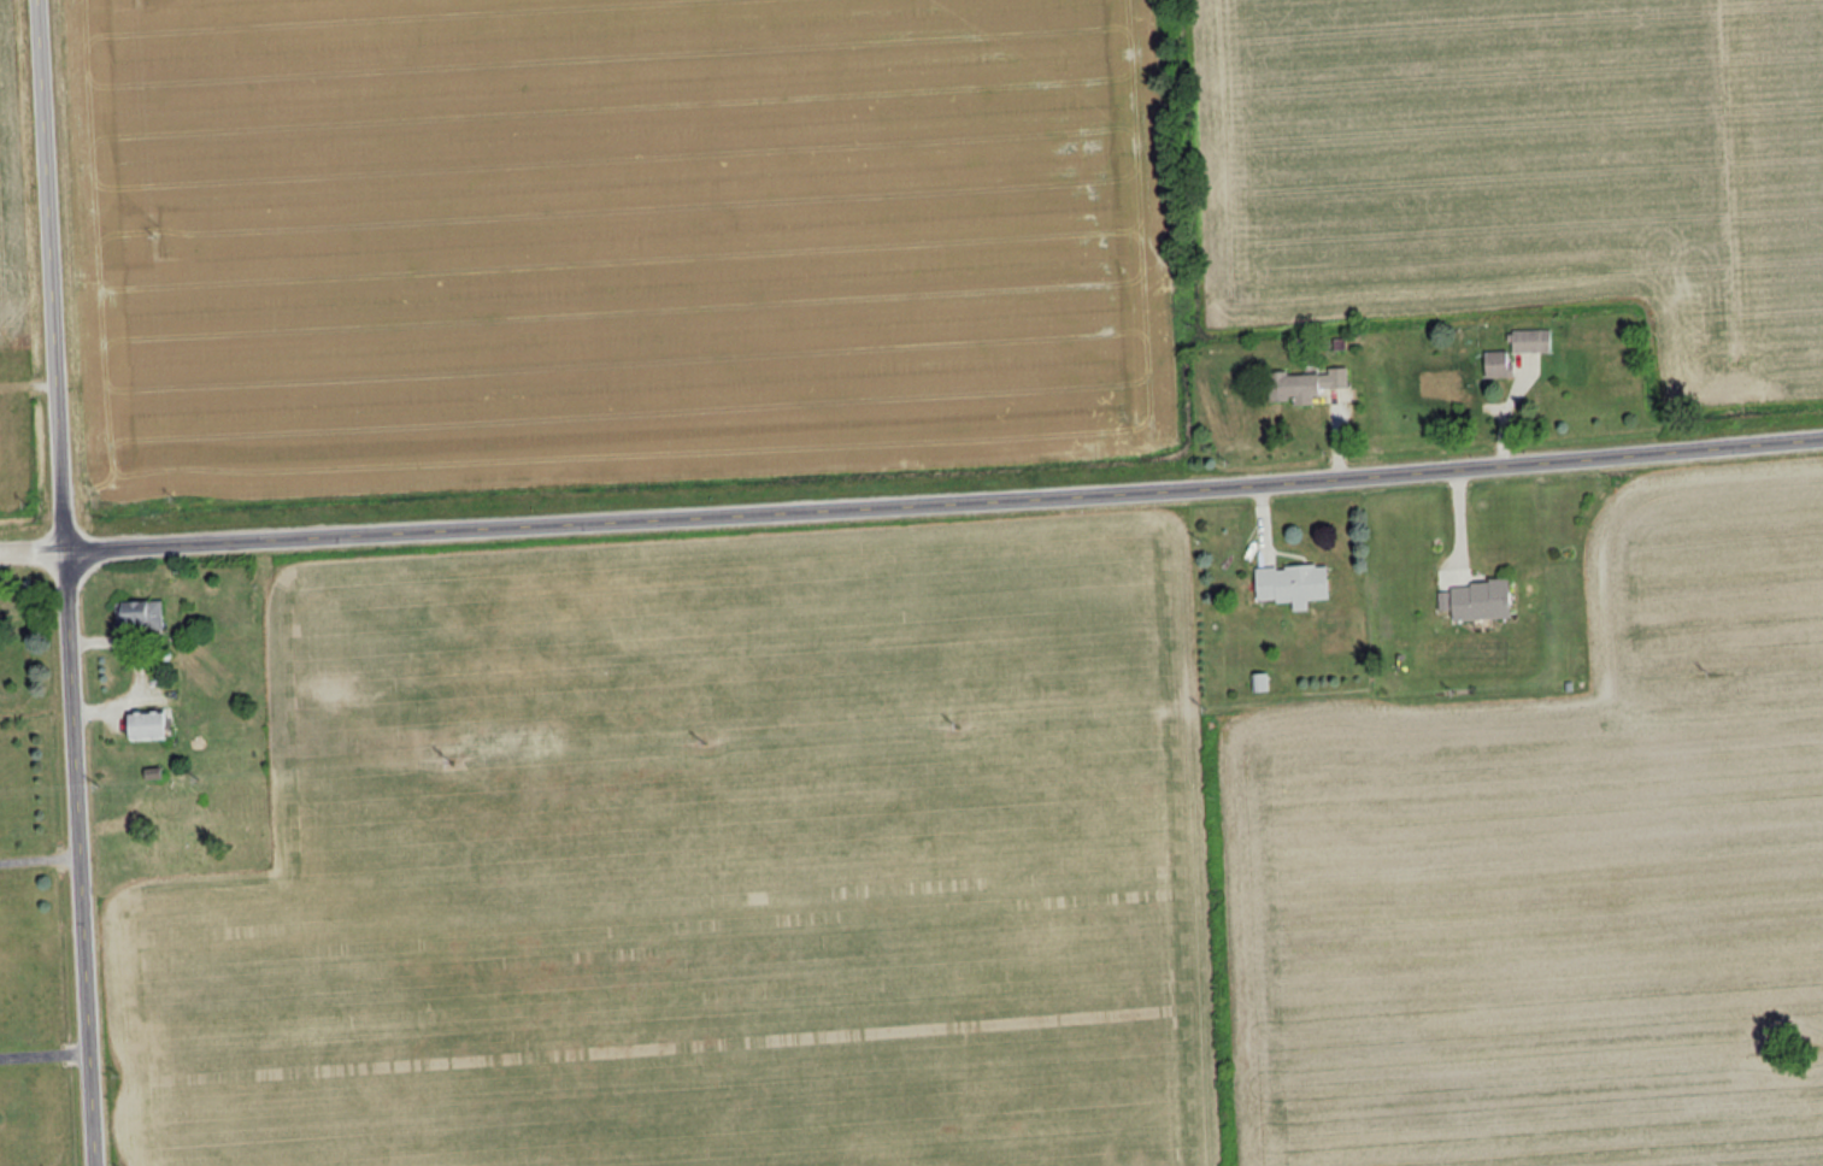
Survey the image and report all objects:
building: (1530, 341)
building: (1496, 364)
building: (1305, 383)
road: (912, 508)
road: (64, 582)
building: (1289, 583)
building: (1477, 600)
building: (139, 616)
road: (35, 699)
building: (145, 725)
road: (39, 853)
road: (43, 1050)

